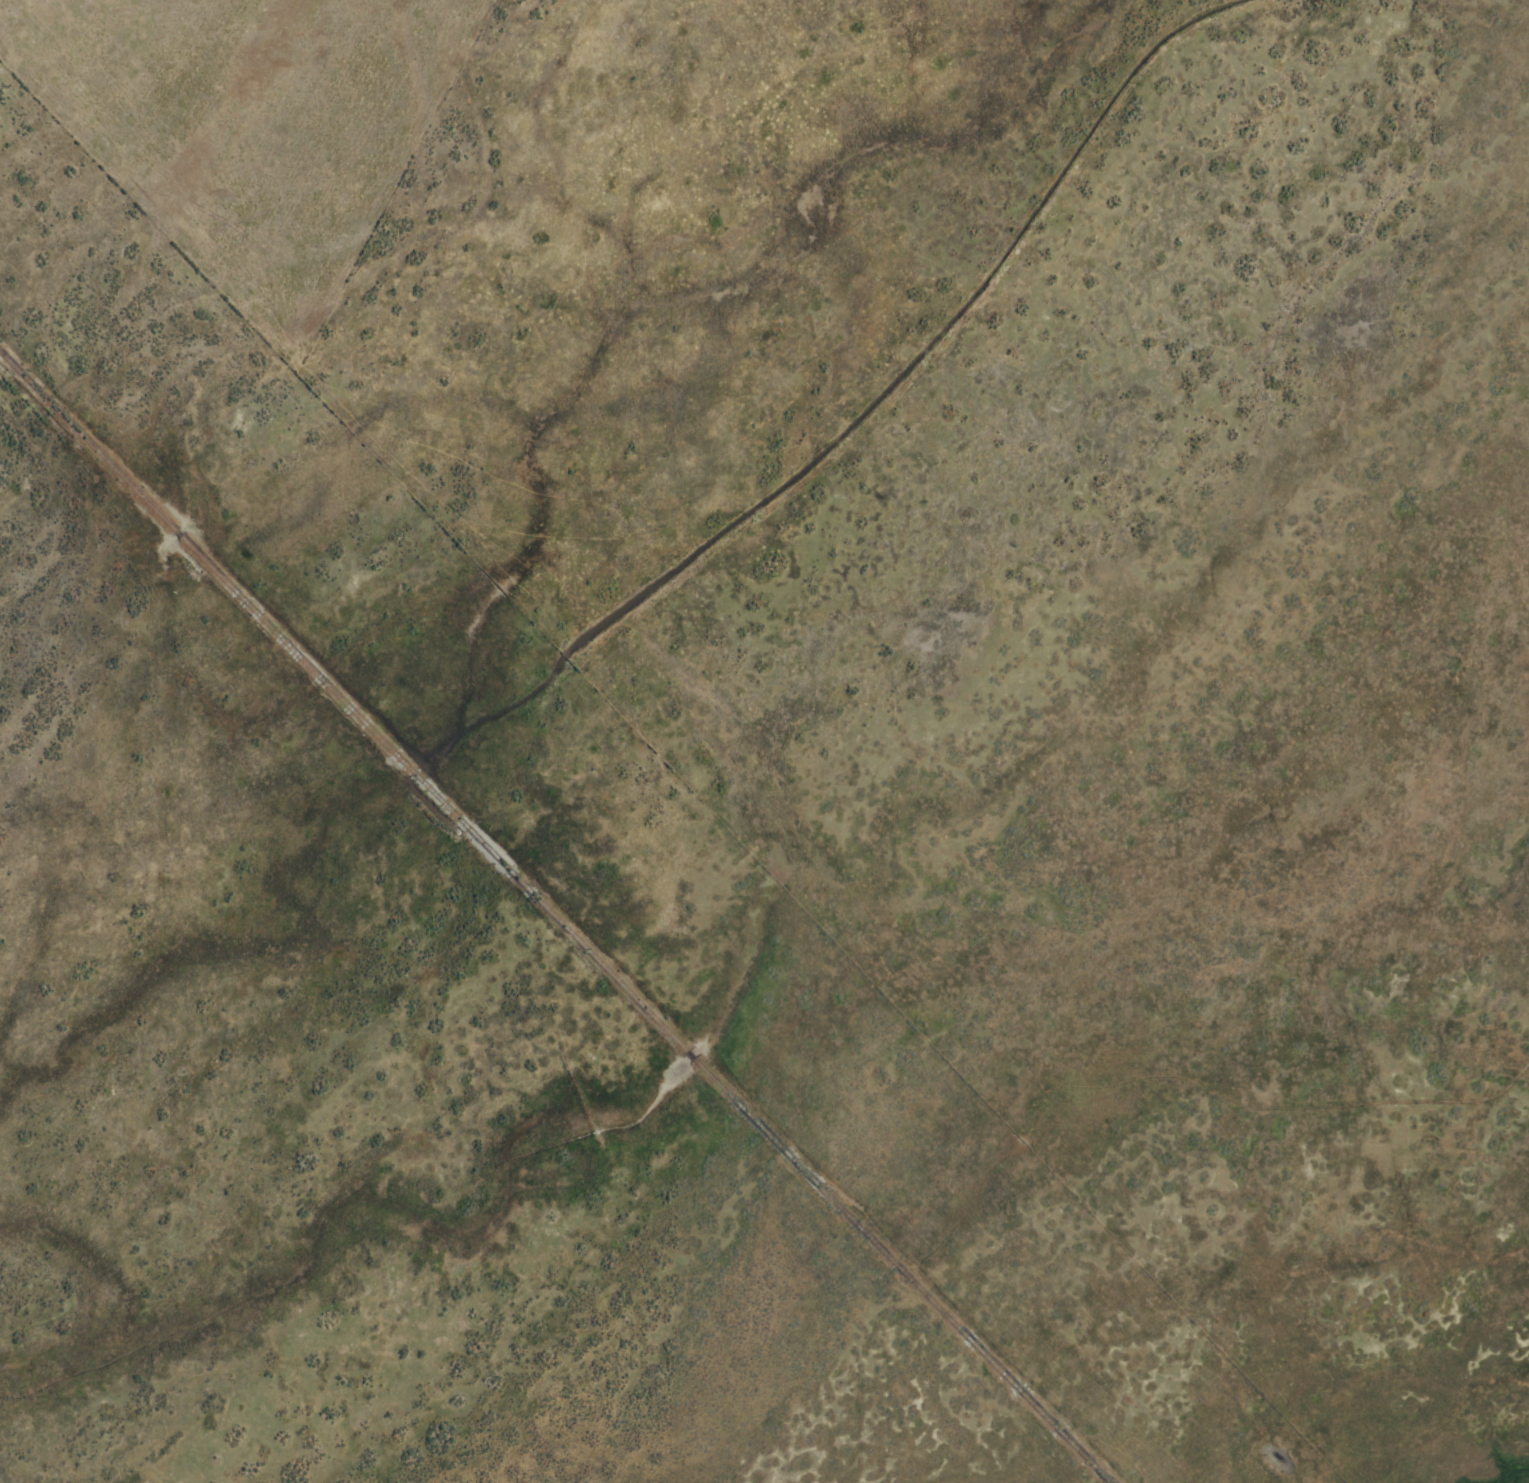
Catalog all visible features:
crop: (764, 741)
railway: (554, 919)

